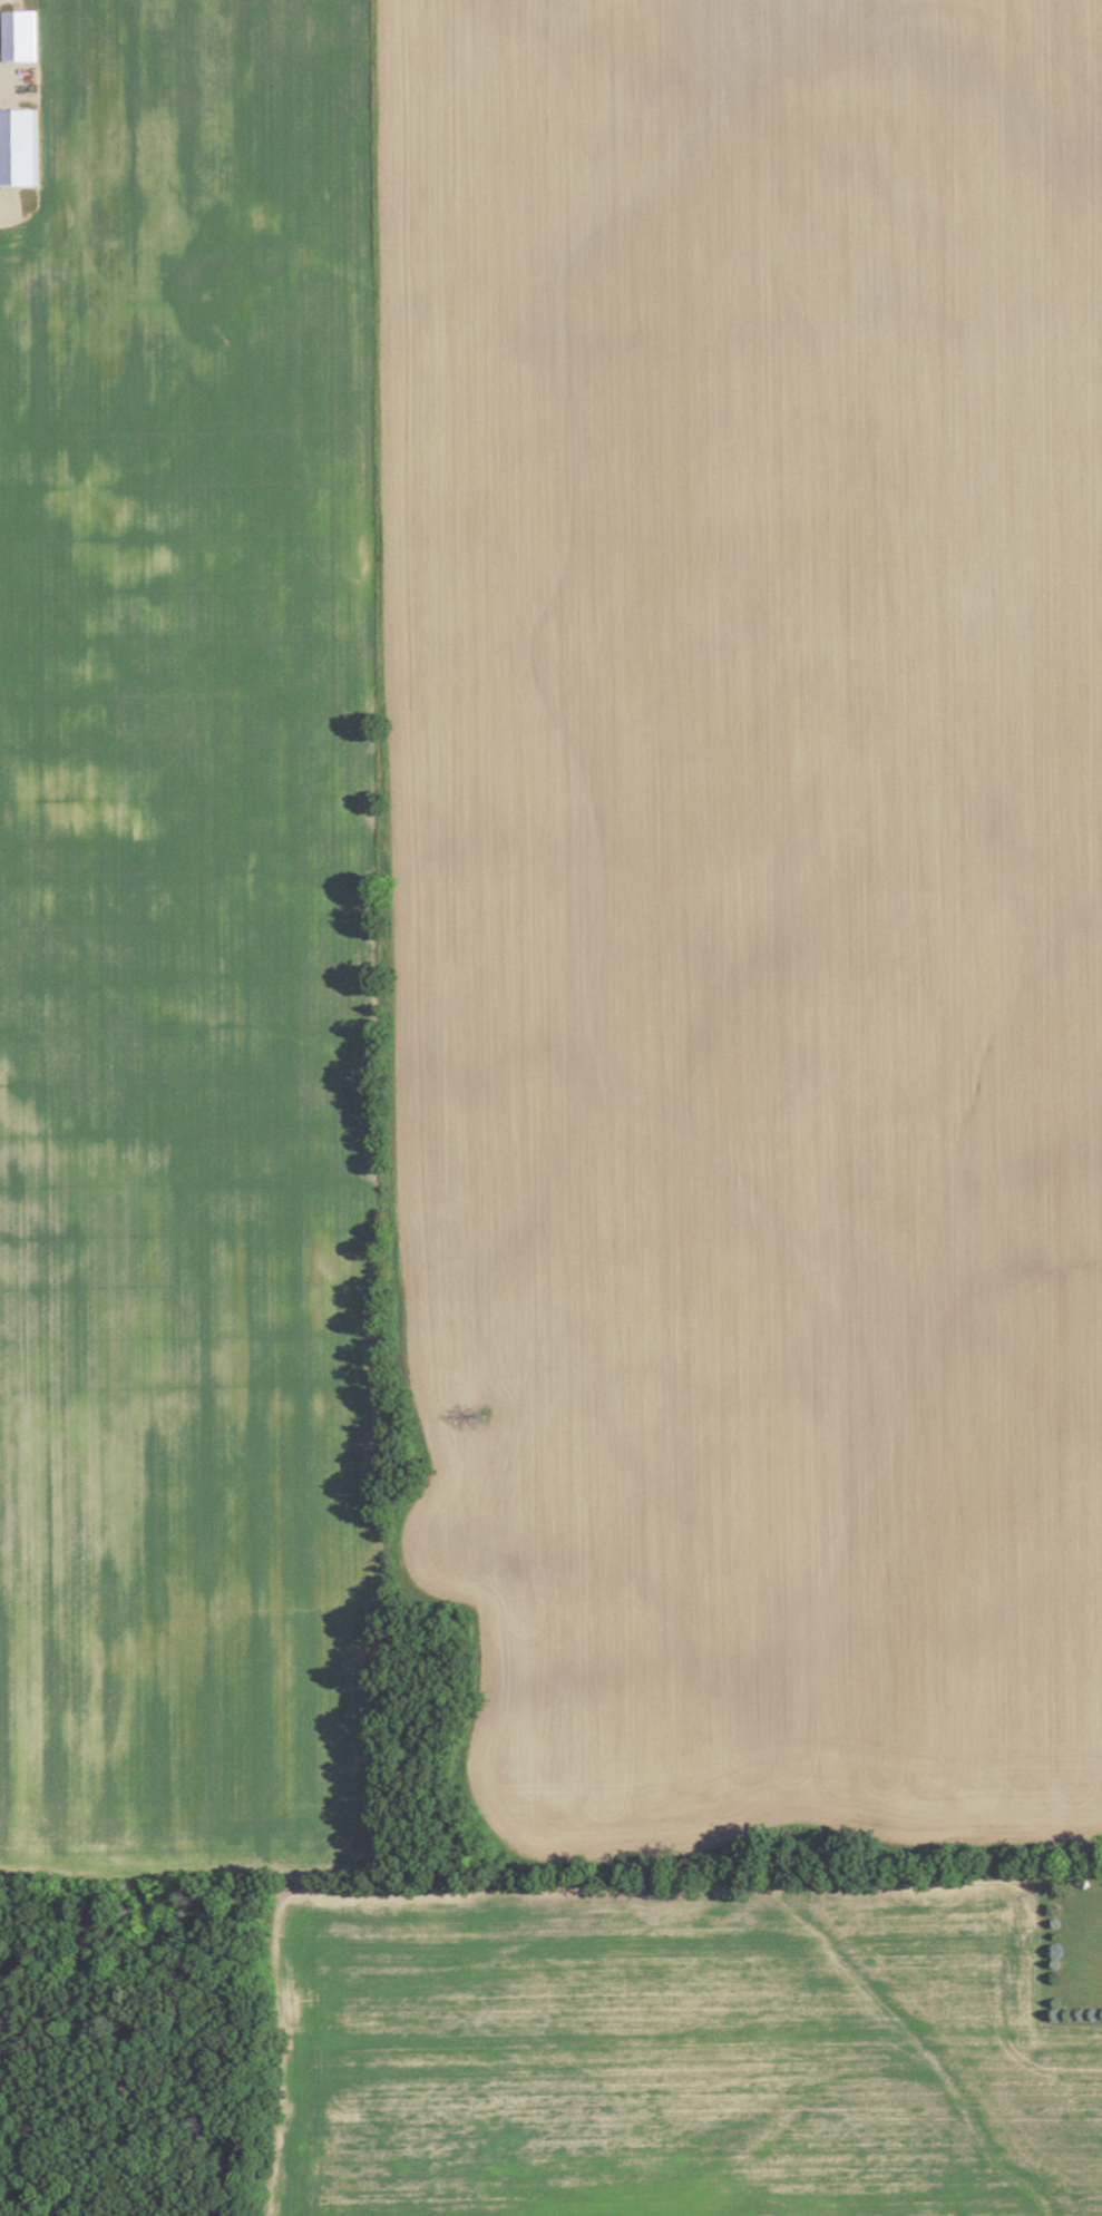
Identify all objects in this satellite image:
building: (21, 38)
building: (19, 149)

